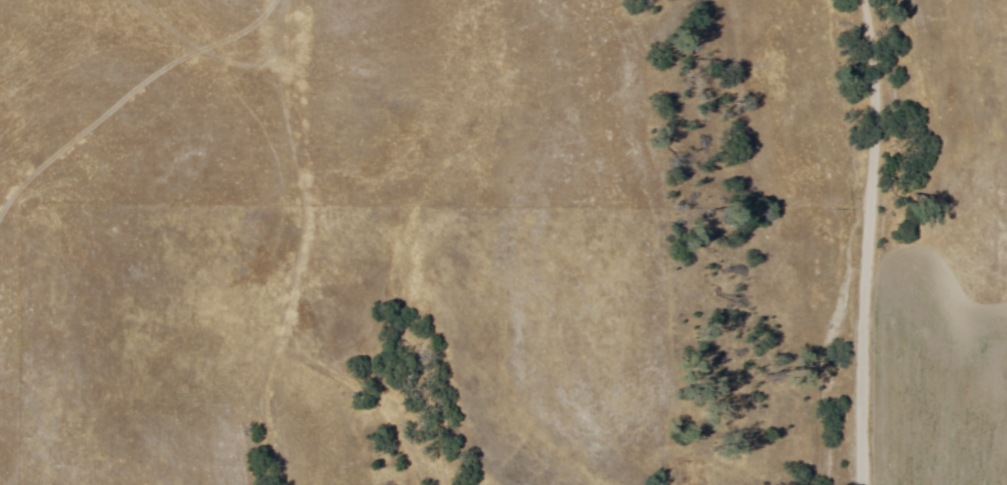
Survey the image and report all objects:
road: (867, 242)

